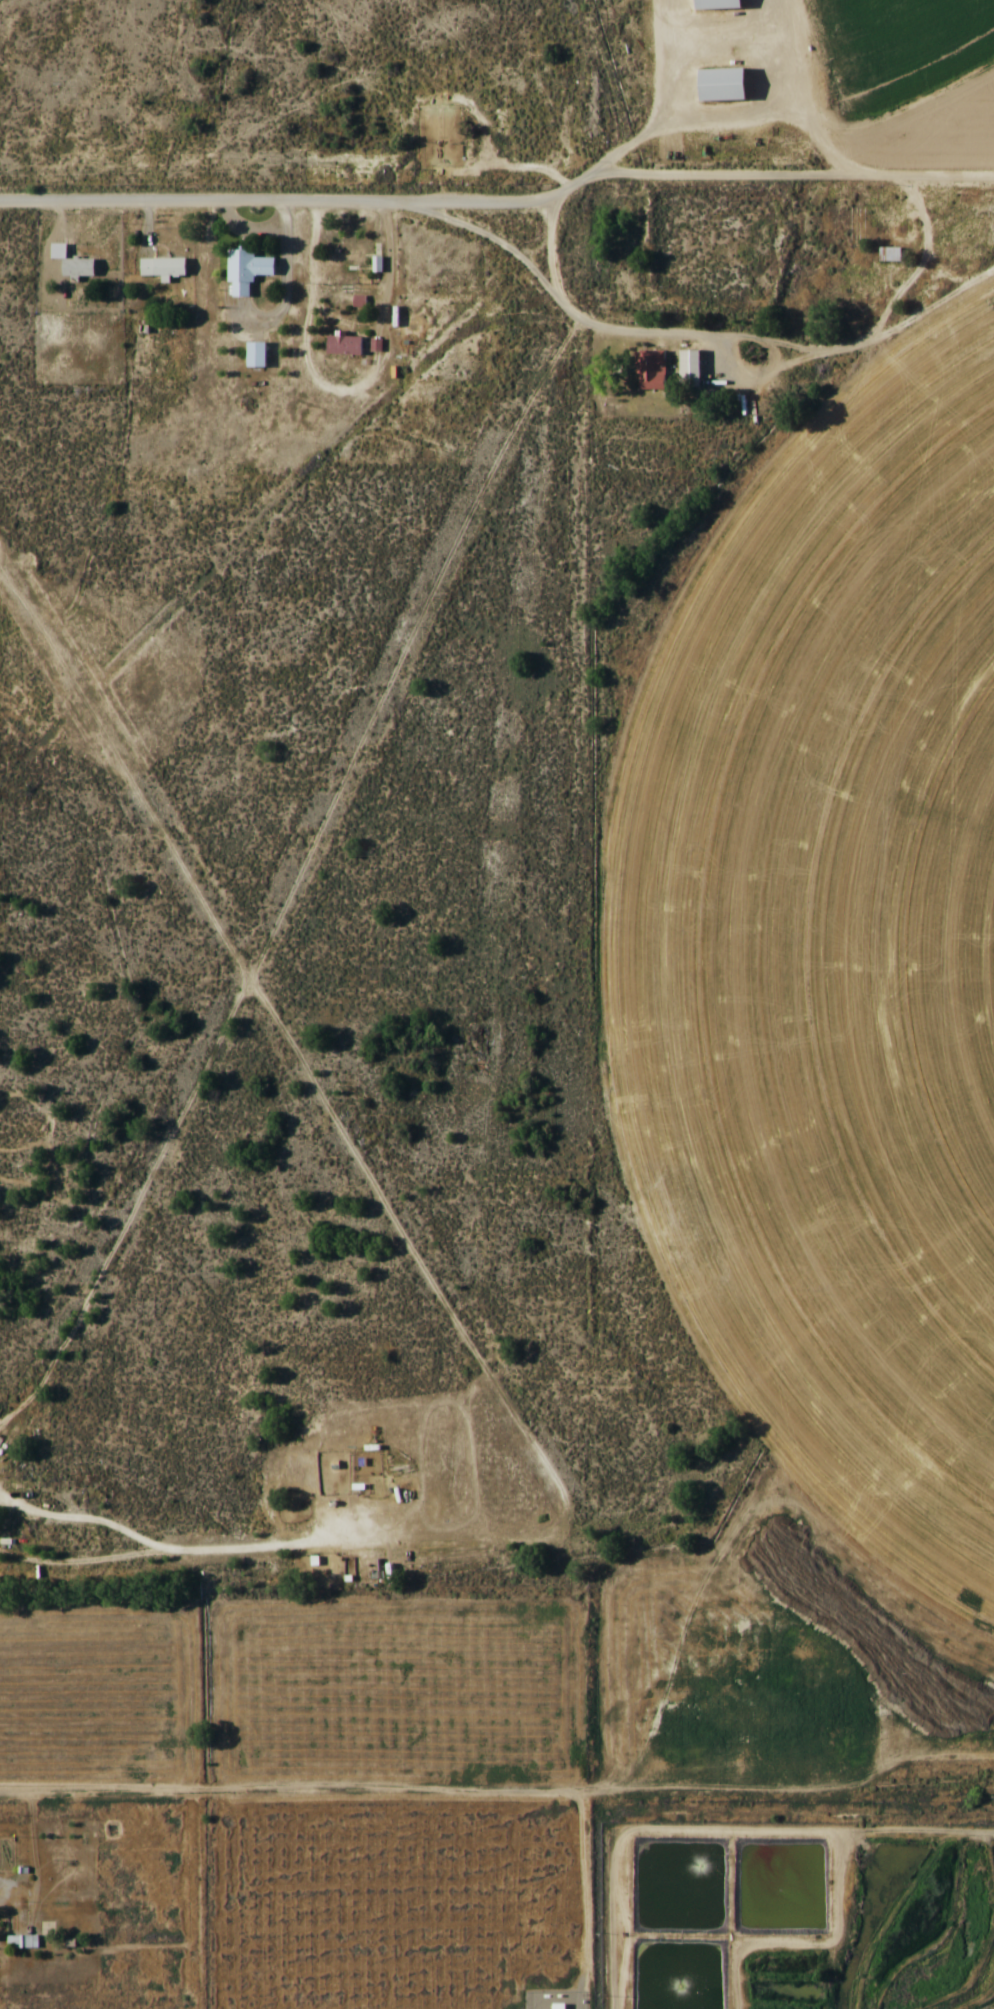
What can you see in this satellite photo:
building: (717, 3)
building: (721, 84)
road: (500, 204)
building: (861, 230)
building: (890, 253)
building: (72, 262)
building: (162, 266)
building: (246, 270)
building: (344, 345)
building: (256, 354)
building: (650, 369)
crop: (832, 959)
building: (55, 1522)
building: (22, 1941)
building: (538, 2000)

